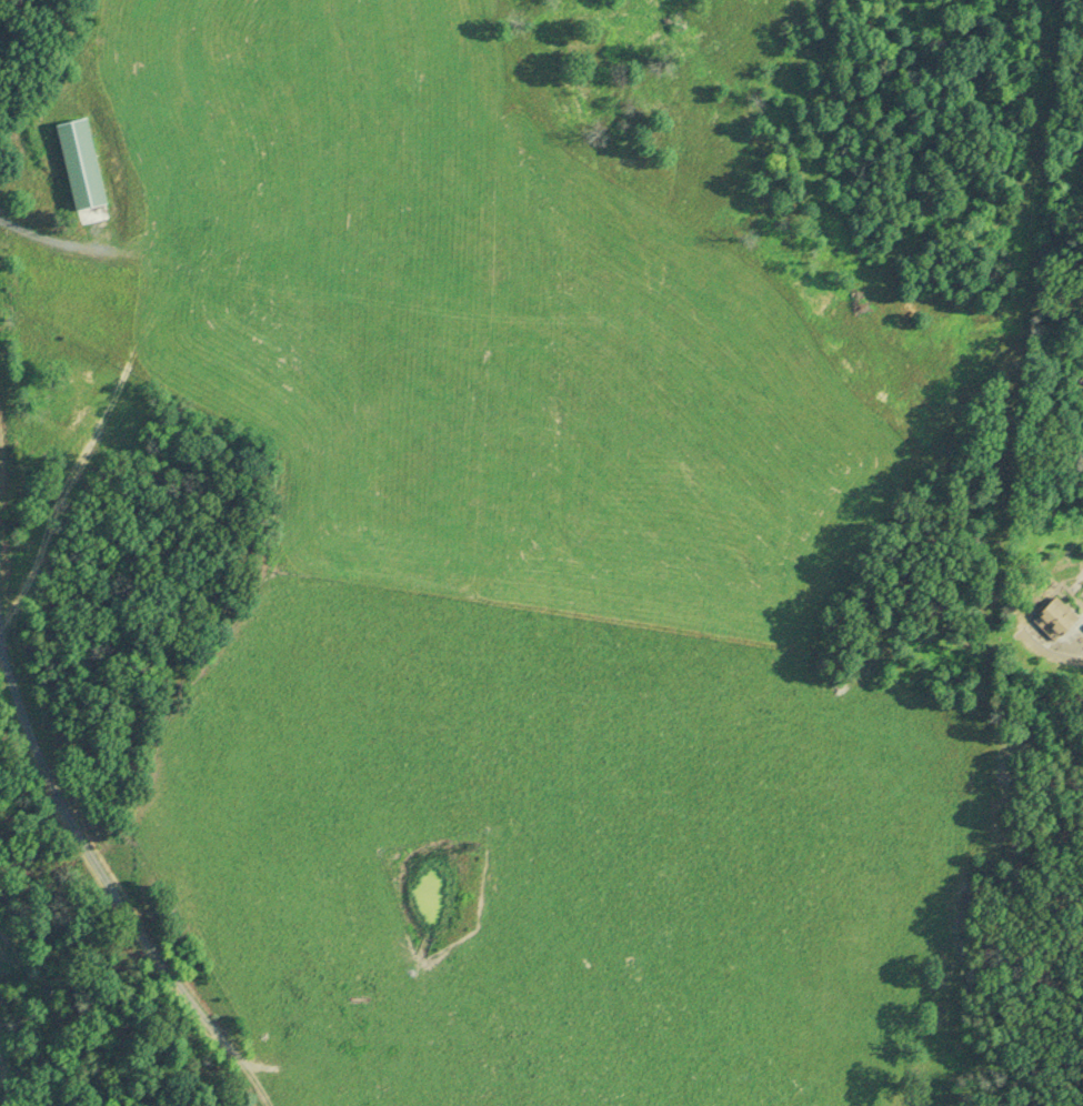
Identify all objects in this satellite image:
road: (4, 539)

